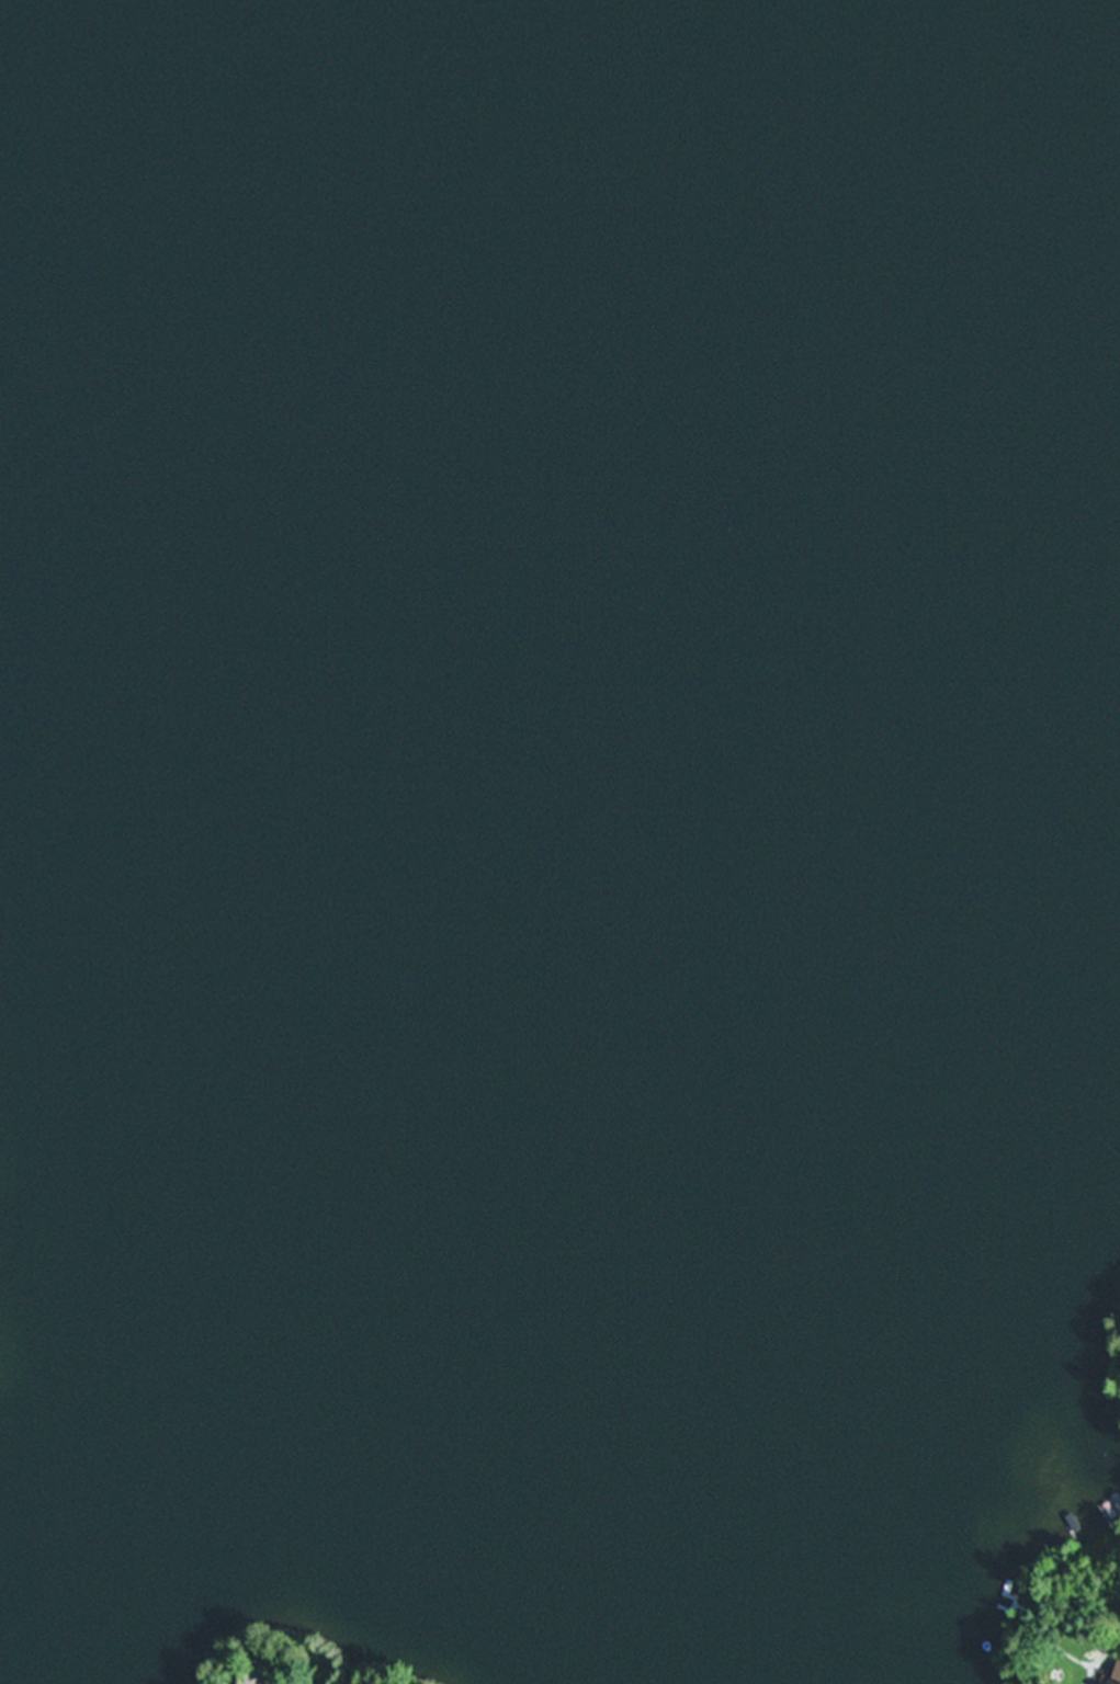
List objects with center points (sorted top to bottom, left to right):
building: (251, 1683)

